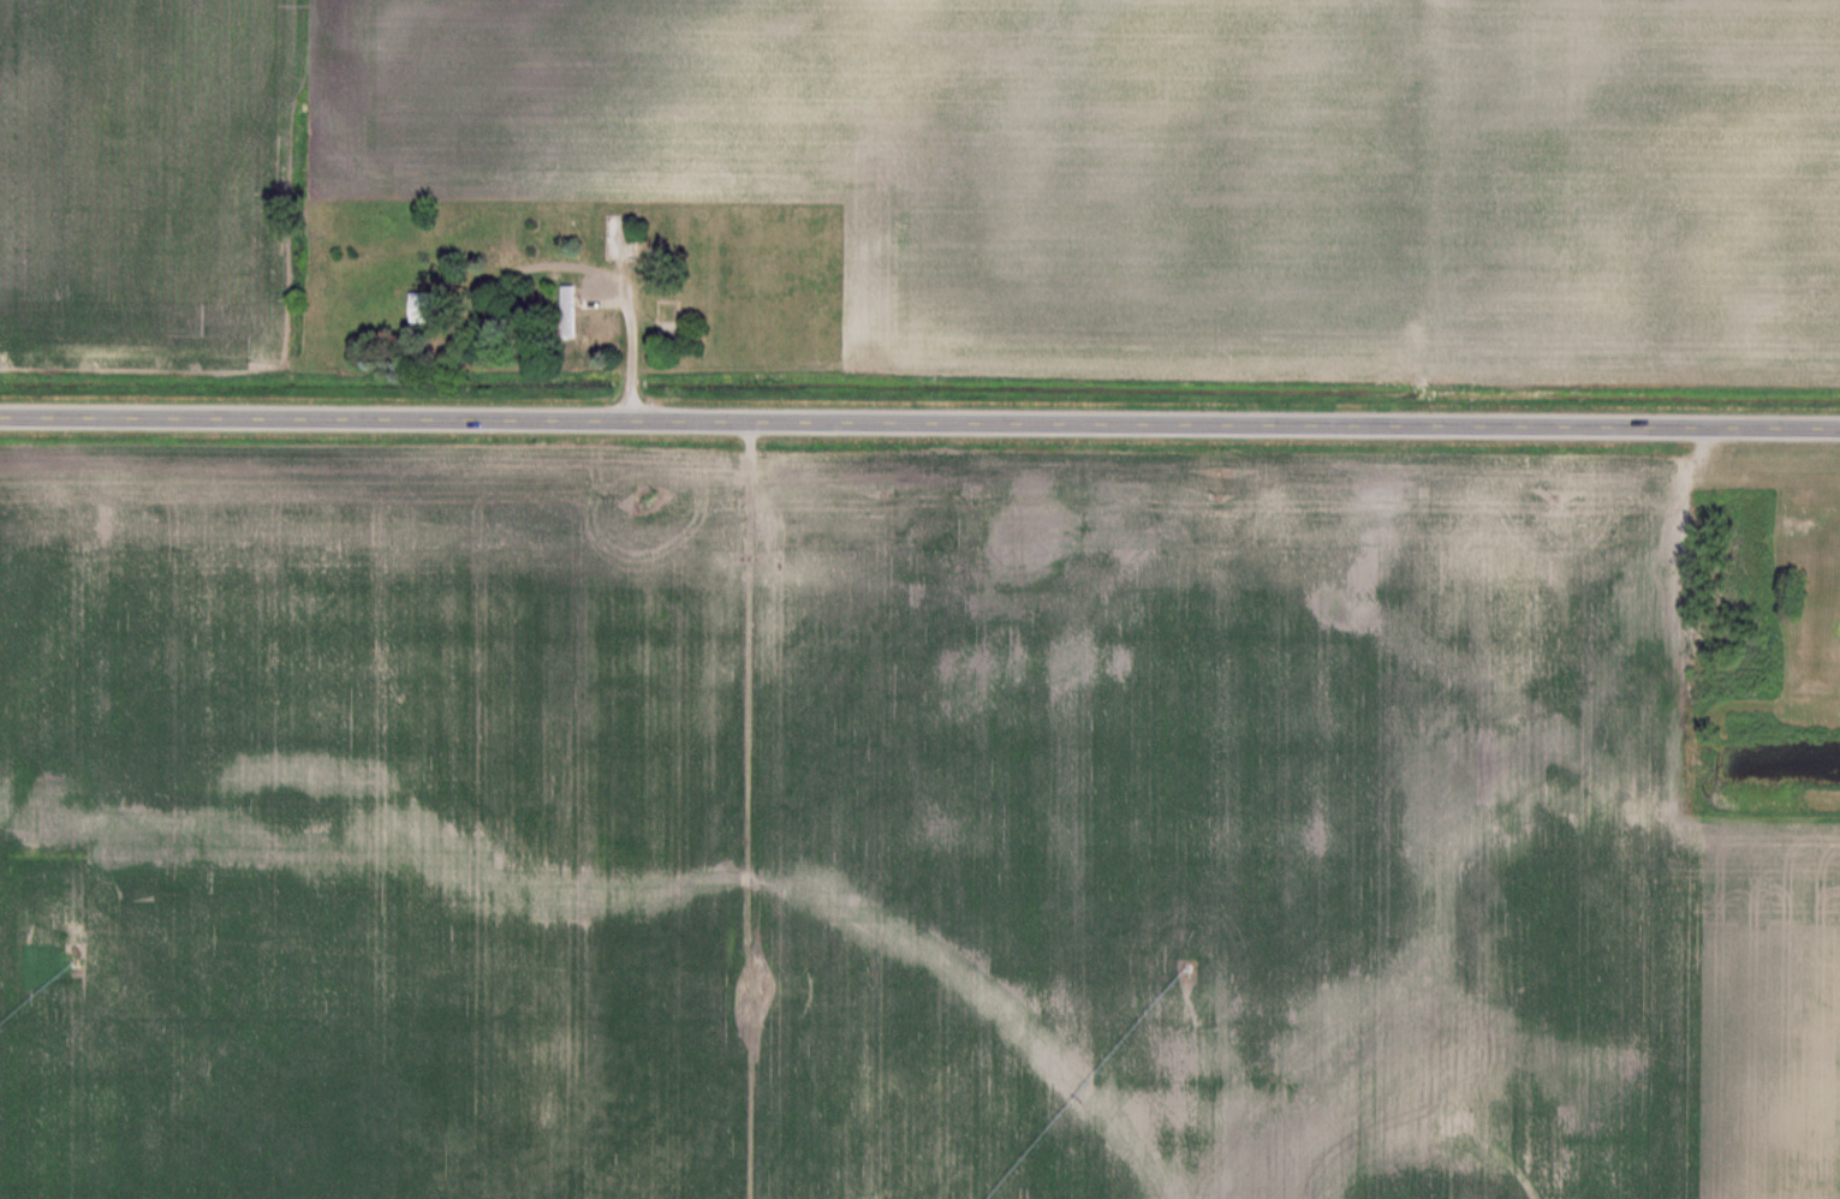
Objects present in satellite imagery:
building: (489, 257)
building: (572, 299)
building: (434, 309)
road: (631, 344)
road: (919, 422)

